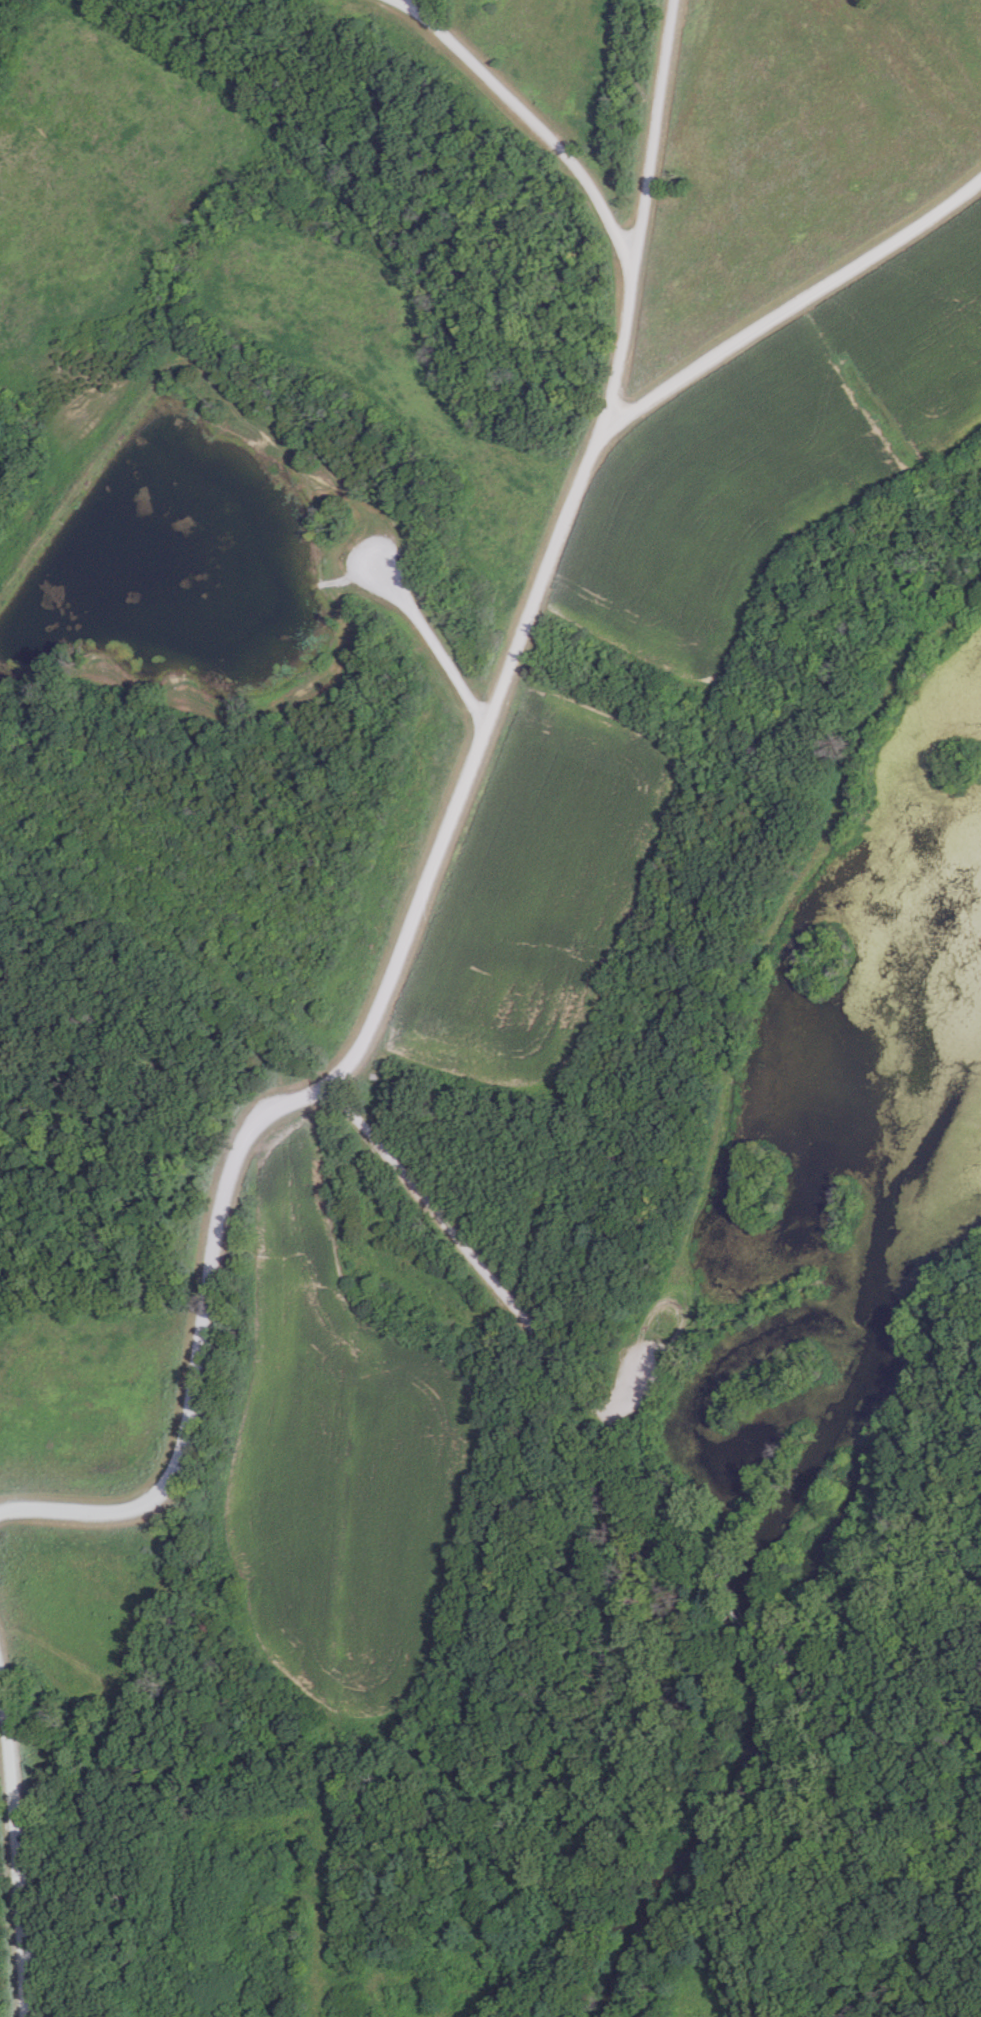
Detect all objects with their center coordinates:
road: (409, 3)
road: (521, 117)
road: (794, 306)
dam: (87, 487)
road: (428, 854)
road: (158, 984)
road: (482, 1269)
parking lot: (639, 1372)
road: (657, 1513)
road: (734, 1617)
road: (764, 1652)
road: (17, 1844)

